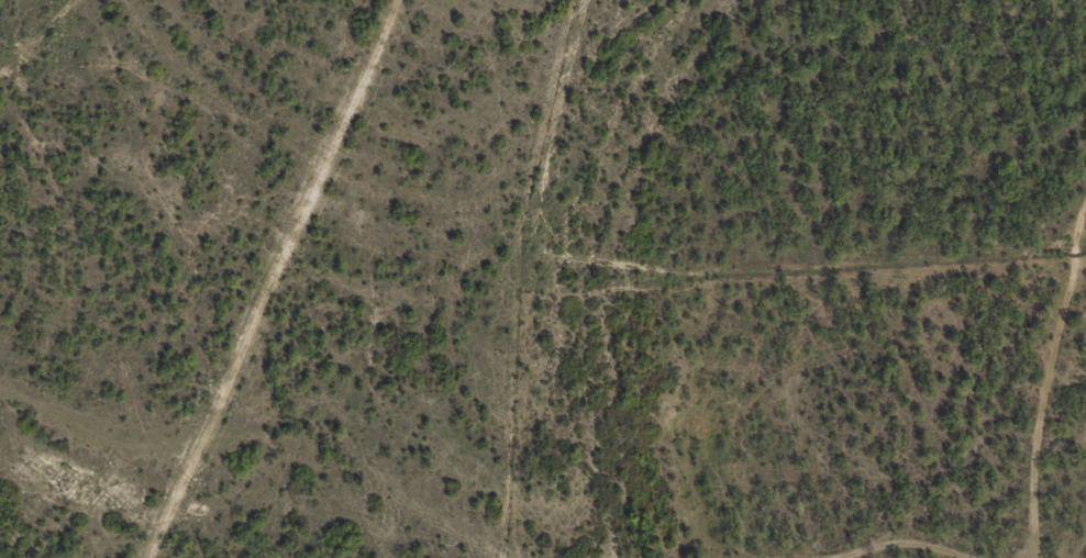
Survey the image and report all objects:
road: (298, 280)
road: (1067, 429)
road: (898, 539)

